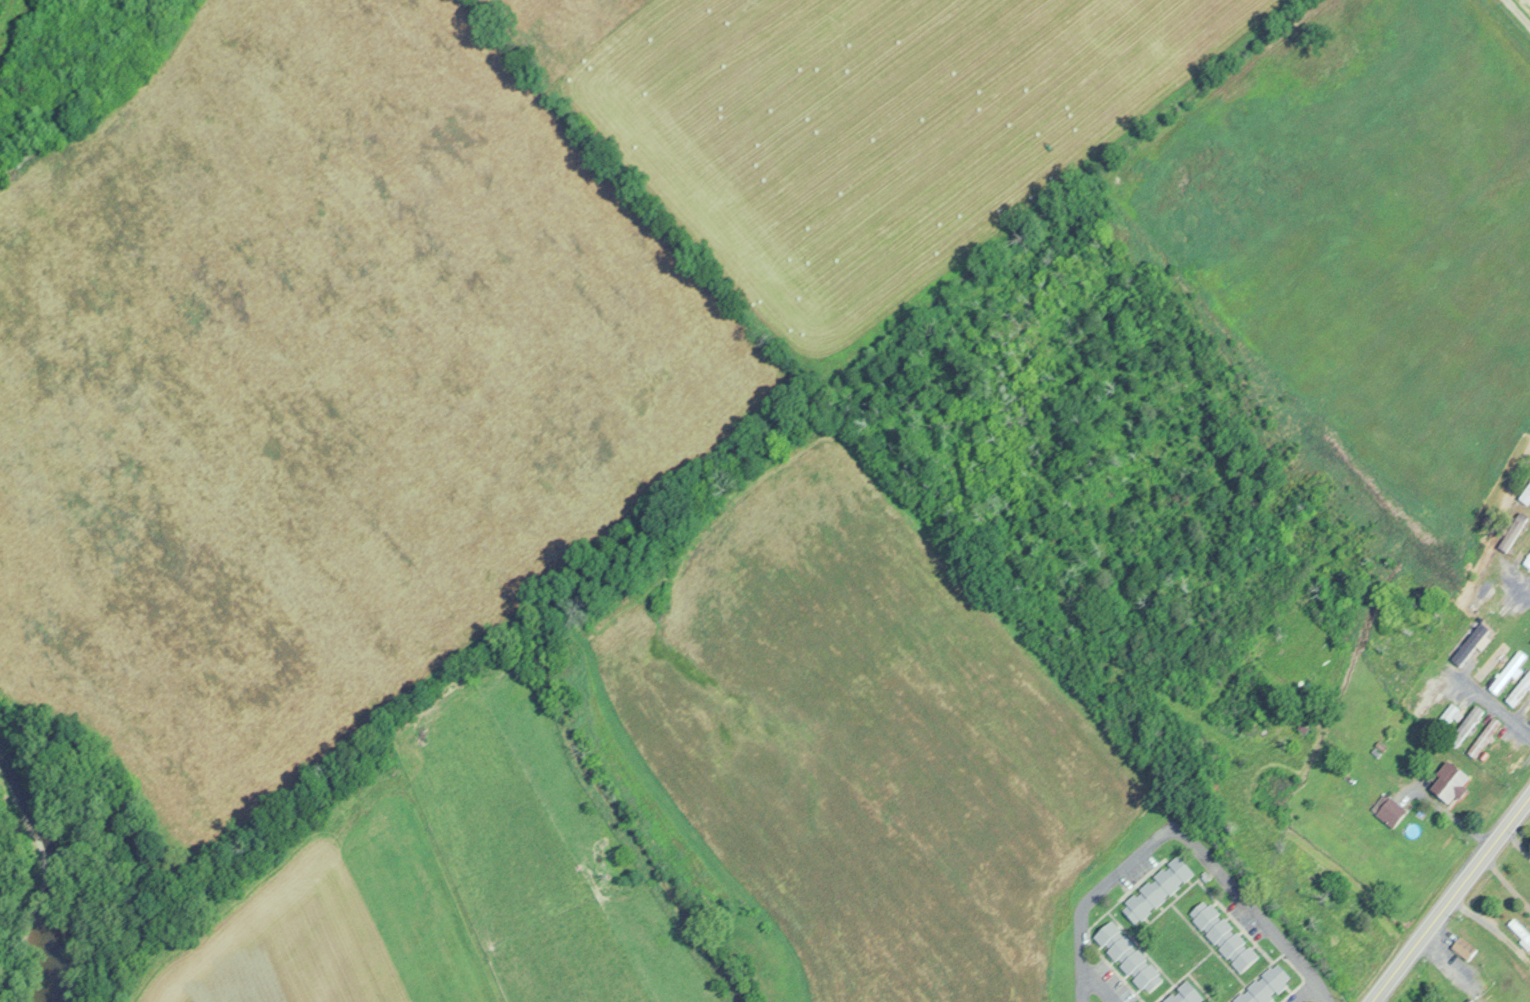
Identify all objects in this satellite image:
road: (1519, 12)
building: (1526, 495)
building: (1513, 531)
building: (1527, 560)
building: (1483, 590)
building: (1470, 643)
building: (1490, 658)
building: (1507, 670)
building: (1519, 688)
building: (1428, 697)
building: (1444, 717)
building: (1465, 724)
building: (1483, 736)
building: (1450, 783)
building: (1389, 809)
road: (1180, 832)
river: (49, 872)
building: (1156, 889)
road: (1447, 896)
building: (1520, 931)
building: (1223, 935)
building: (1464, 947)
building: (1129, 957)
building: (1264, 986)
building: (1184, 994)

